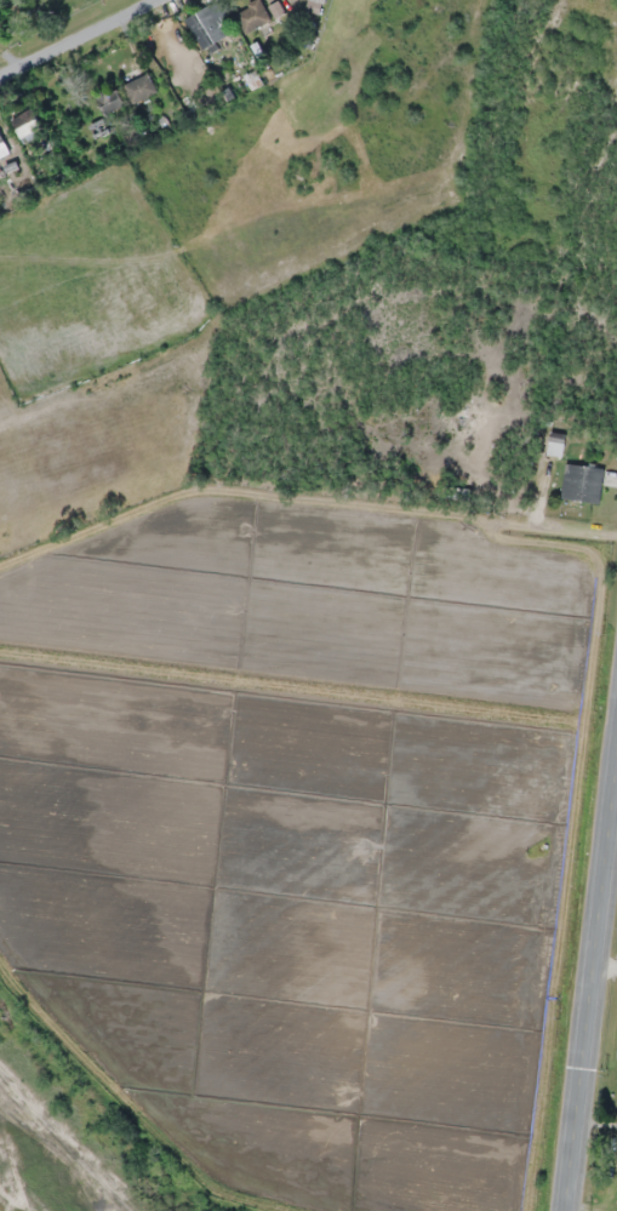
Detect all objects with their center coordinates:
building: (252, 16)
building: (202, 29)
road: (79, 36)
building: (139, 88)
building: (109, 101)
building: (27, 125)
building: (2, 148)
building: (556, 442)
building: (582, 482)
building: (457, 492)
road: (592, 995)

